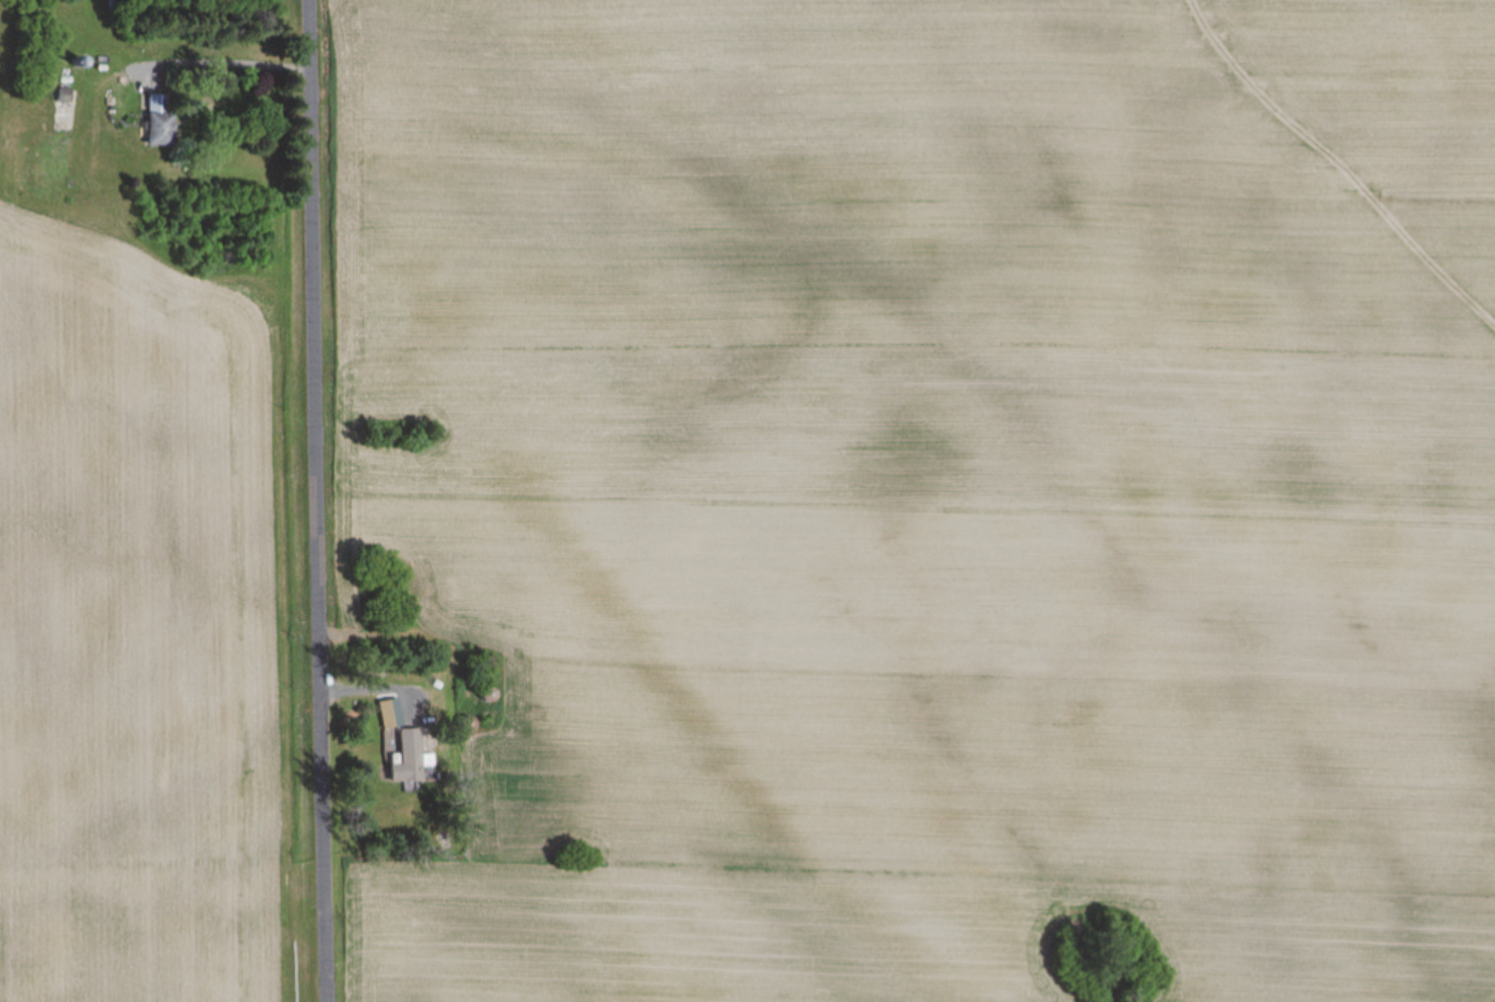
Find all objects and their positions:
building: (159, 130)
road: (320, 501)
building: (486, 695)
building: (390, 715)
building: (408, 759)

